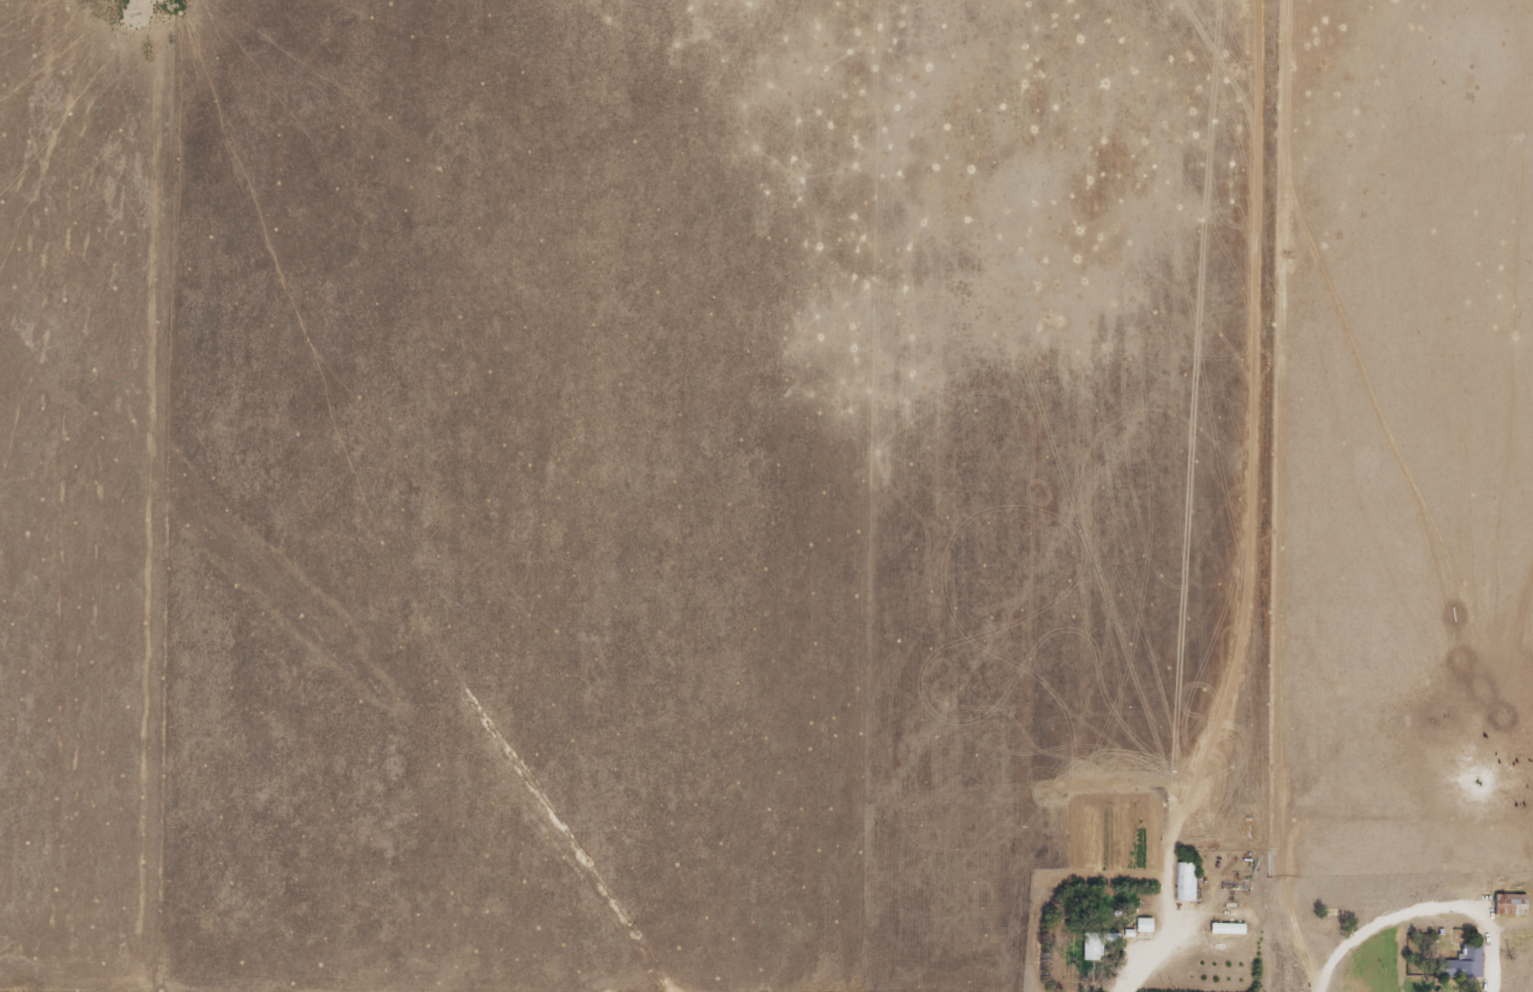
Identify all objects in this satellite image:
building: (1188, 881)

